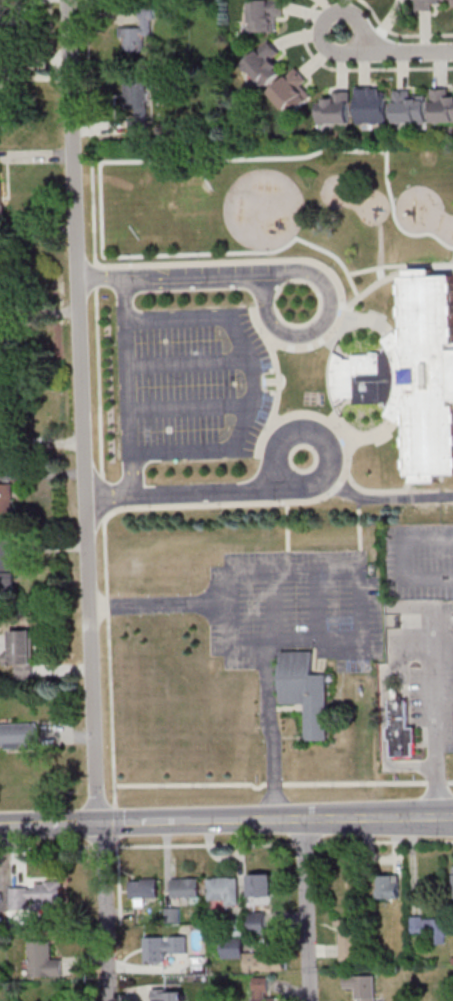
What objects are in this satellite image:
building: (428, 4)
building: (265, 15)
road: (49, 24)
building: (3, 31)
building: (138, 32)
road: (398, 35)
road: (396, 50)
building: (265, 66)
road: (348, 68)
building: (292, 93)
building: (136, 106)
building: (372, 107)
building: (411, 108)
building: (442, 108)
building: (335, 110)
building: (0, 122)
road: (90, 132)
road: (97, 162)
road: (102, 181)
building: (1, 191)
road: (384, 252)
road: (301, 259)
road: (96, 275)
road: (199, 278)
road: (355, 285)
road: (376, 287)
road: (370, 321)
road: (295, 333)
road: (190, 361)
building: (432, 369)
road: (100, 382)
road: (255, 383)
road: (130, 388)
road: (279, 401)
road: (192, 406)
building: (5, 410)
road: (83, 413)
road: (374, 435)
road: (302, 488)
road: (212, 493)
road: (387, 497)
road: (104, 499)
building: (6, 502)
road: (292, 502)
road: (361, 534)
road: (433, 536)
road: (290, 537)
building: (6, 565)
road: (364, 578)
road: (321, 607)
road: (276, 608)
road: (250, 644)
road: (433, 652)
road: (109, 662)
road: (444, 698)
road: (389, 717)
road: (436, 760)
road: (282, 783)
road: (380, 819)
road: (116, 820)
road: (204, 824)
traffic signals: (101, 826)
road: (3, 827)
road: (53, 827)
road: (117, 840)
road: (386, 840)
road: (307, 842)
road: (101, 843)
road: (204, 843)
road: (43, 844)
road: (310, 911)
road: (106, 913)
building: (260, 922)
building: (430, 926)
building: (348, 938)
building: (164, 946)
building: (252, 955)
building: (44, 959)
building: (362, 985)
building: (261, 989)
building: (170, 994)

